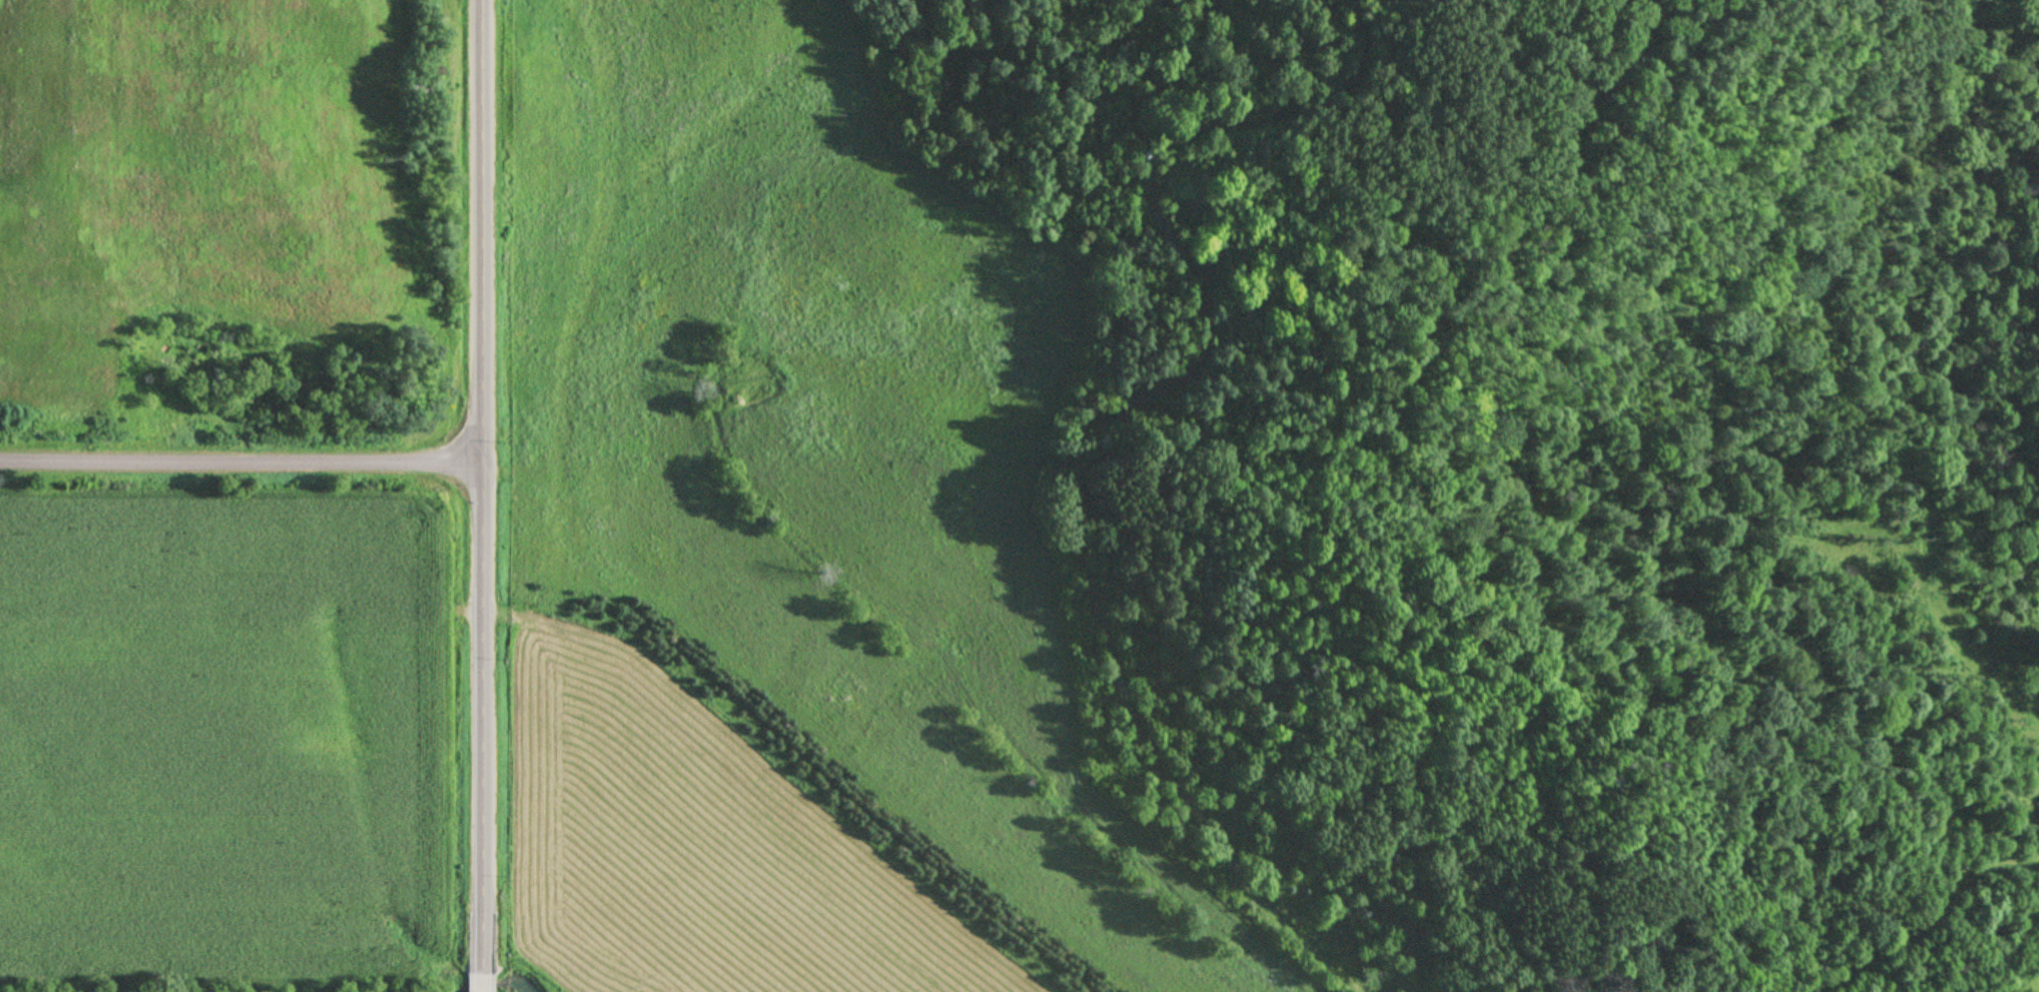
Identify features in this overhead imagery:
road: (240, 454)
road: (481, 495)
road: (1265, 905)

